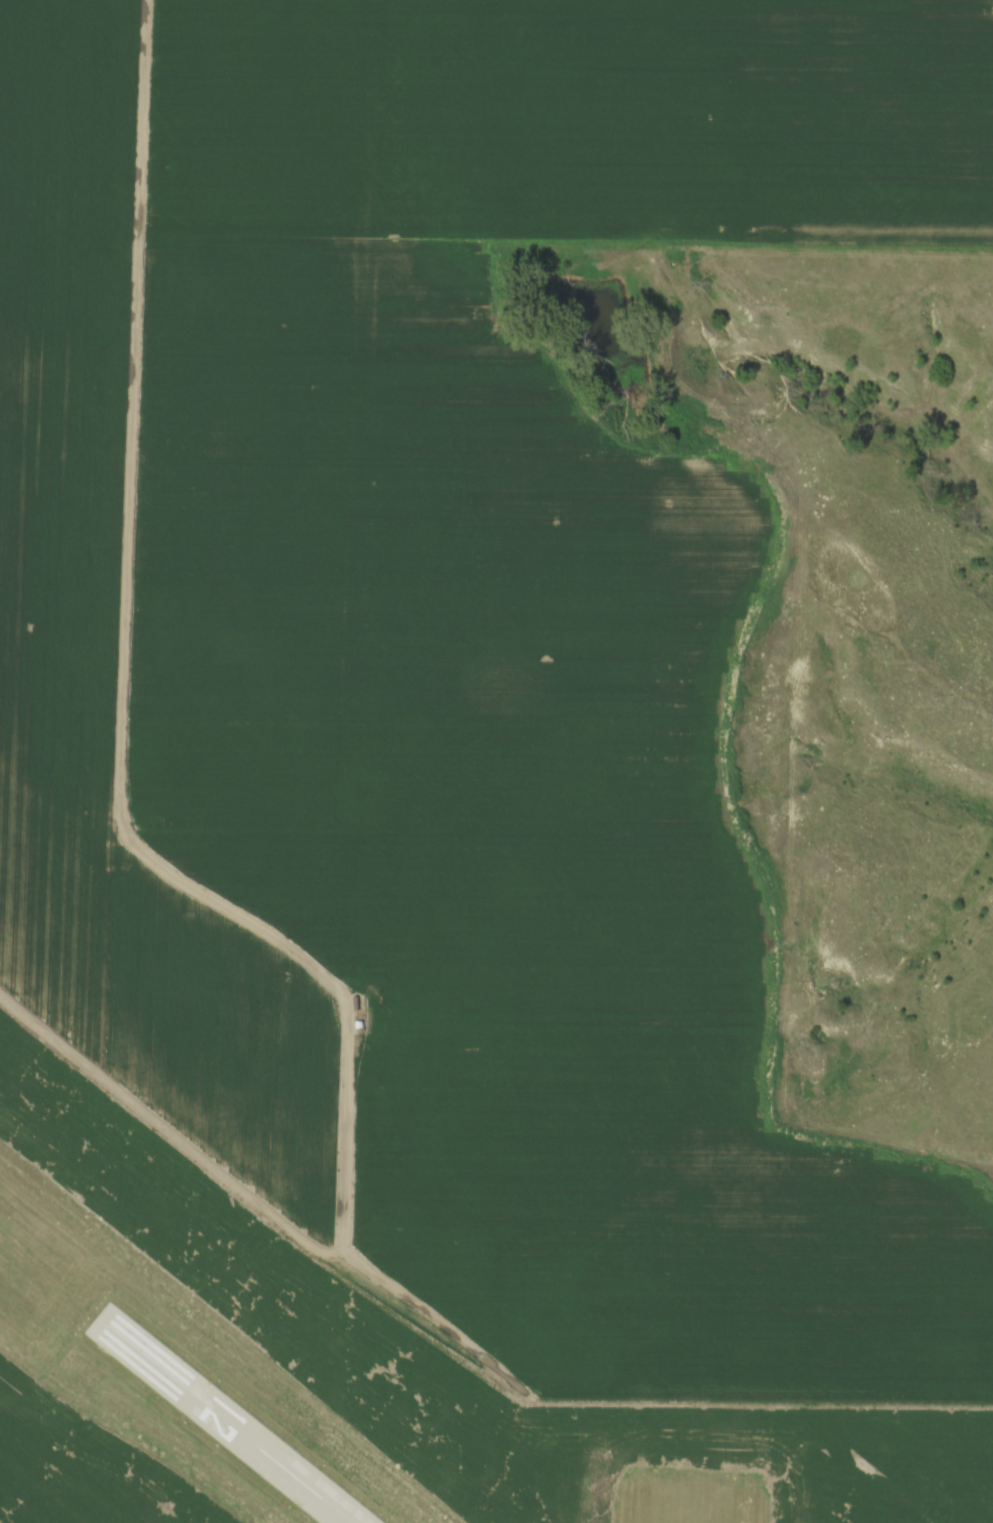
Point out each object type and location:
crop: (577, 111)
crop: (111, 659)
crop: (508, 845)
airport: (333, 1368)
airport runway: (222, 1420)
airport runway: (693, 1496)

